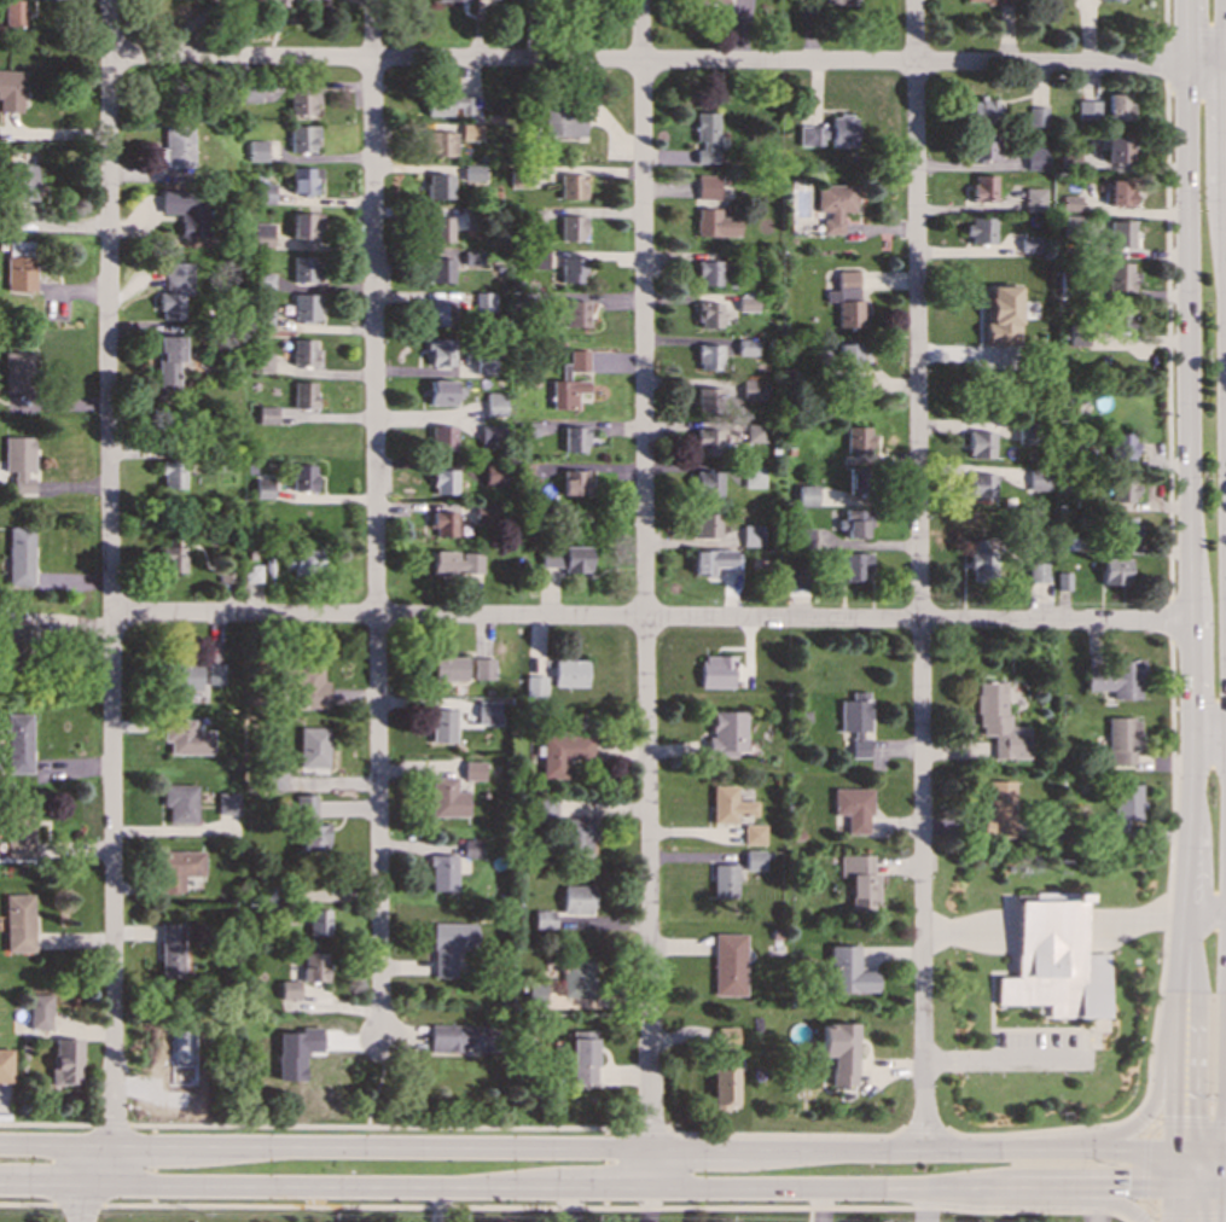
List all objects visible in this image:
building: (454, 0)
building: (267, 1)
building: (487, 1)
building: (993, 1)
building: (1109, 1)
building: (842, 2)
building: (737, 8)
building: (12, 13)
road: (1164, 21)
road: (1196, 30)
road: (667, 62)
road: (1166, 63)
road: (1225, 71)
building: (11, 92)
building: (303, 101)
building: (446, 104)
building: (1118, 106)
building: (988, 110)
building: (1087, 110)
building: (1036, 116)
building: (562, 124)
building: (469, 133)
building: (830, 133)
building: (705, 136)
building: (302, 139)
building: (440, 144)
building: (176, 146)
building: (982, 147)
building: (1117, 149)
building: (257, 151)
building: (472, 173)
building: (304, 181)
building: (23, 182)
building: (438, 186)
building: (571, 186)
building: (707, 187)
building: (983, 188)
building: (1120, 192)
building: (262, 193)
building: (1034, 199)
building: (1069, 203)
building: (833, 205)
building: (185, 210)
building: (533, 215)
building: (714, 223)
building: (304, 225)
building: (571, 228)
building: (440, 229)
building: (981, 229)
building: (262, 233)
building: (1121, 233)
building: (1029, 244)
building: (472, 257)
building: (536, 261)
building: (303, 269)
building: (438, 269)
building: (571, 269)
building: (18, 273)
building: (708, 273)
building: (1122, 278)
building: (263, 280)
building: (174, 290)
building: (846, 299)
building: (483, 302)
building: (746, 304)
building: (304, 307)
building: (441, 313)
building: (574, 314)
building: (1003, 314)
building: (708, 315)
building: (1120, 318)
building: (267, 320)
road: (1168, 342)
building: (746, 347)
building: (303, 351)
building: (440, 353)
building: (708, 356)
building: (848, 356)
building: (168, 359)
building: (262, 362)
building: (484, 362)
road: (1189, 369)
building: (18, 371)
building: (569, 380)
building: (753, 389)
building: (443, 394)
building: (303, 395)
building: (708, 398)
building: (495, 405)
building: (267, 415)
building: (754, 432)
building: (1025, 432)
building: (490, 436)
building: (441, 437)
building: (574, 438)
building: (858, 440)
building: (707, 441)
building: (980, 443)
building: (1121, 446)
building: (19, 462)
building: (172, 473)
building: (493, 475)
building: (753, 476)
building: (855, 479)
building: (1039, 479)
building: (443, 482)
building: (574, 482)
building: (707, 484)
building: (981, 487)
building: (263, 488)
building: (1122, 488)
building: (807, 495)
building: (483, 514)
road: (373, 520)
building: (443, 523)
building: (856, 523)
building: (707, 525)
building: (1123, 530)
building: (751, 535)
building: (803, 537)
building: (19, 557)
building: (565, 558)
building: (170, 559)
building: (302, 559)
building: (711, 559)
building: (981, 559)
building: (455, 563)
building: (855, 566)
building: (221, 569)
road: (110, 571)
building: (1036, 571)
building: (1114, 571)
building: (251, 572)
road: (644, 574)
road: (919, 574)
building: (796, 578)
building: (1062, 581)
road: (651, 617)
road: (1170, 619)
building: (17, 645)
building: (449, 668)
building: (483, 668)
building: (716, 671)
building: (568, 673)
building: (215, 674)
building: (184, 675)
building: (1115, 679)
building: (534, 686)
building: (309, 687)
road: (1198, 708)
building: (487, 711)
building: (855, 721)
building: (999, 722)
building: (442, 725)
building: (726, 733)
building: (186, 737)
road: (1209, 739)
building: (1122, 740)
building: (18, 743)
building: (313, 746)
building: (562, 753)
building: (472, 770)
road: (1191, 787)
building: (446, 798)
building: (180, 802)
building: (228, 803)
building: (728, 804)
building: (1126, 804)
building: (303, 805)
building: (852, 808)
building: (1000, 811)
building: (18, 832)
building: (753, 834)
building: (576, 836)
building: (312, 837)
building: (471, 848)
building: (753, 860)
building: (179, 868)
building: (443, 872)
road: (1189, 877)
road: (1167, 878)
building: (722, 879)
building: (859, 880)
building: (1052, 896)
building: (576, 900)
building: (544, 918)
road: (1207, 918)
building: (316, 921)
building: (17, 923)
road: (1056, 925)
building: (449, 947)
building: (170, 950)
road: (1187, 955)
building: (1056, 961)
building: (728, 965)
building: (313, 967)
building: (848, 971)
building: (576, 979)
building: (289, 989)
building: (535, 991)
building: (39, 1011)
road: (1225, 1030)
building: (459, 1037)
building: (724, 1037)
building: (295, 1052)
building: (838, 1052)
road: (1006, 1059)
building: (65, 1060)
building: (5, 1065)
road: (1173, 1071)
road: (379, 1084)
building: (724, 1087)
road: (1196, 1095)
road: (1225, 1115)
road: (1144, 1119)
road: (1140, 1121)
road: (1187, 1123)
road: (47, 1124)
road: (110, 1125)
road: (378, 1128)
road: (647, 1128)
road: (924, 1128)
road: (1042, 1129)
road: (783, 1134)
road: (53, 1142)
road: (147, 1144)
road: (420, 1144)
road: (696, 1147)
road: (955, 1148)
traffic signals: (1174, 1151)
road: (1199, 1151)
traffic signals: (1225, 1151)
road: (103, 1163)
road: (653, 1166)
road: (1173, 1170)
road: (4, 1181)
road: (52, 1182)
road: (1197, 1182)
road: (325, 1185)
road: (604, 1187)
road: (826, 1187)
road: (1030, 1188)
road: (1141, 1189)
traffic signals: (1173, 1191)
traffic signals: (1224, 1191)
road: (1225, 1191)
road: (1109, 1195)
road: (88, 1201)
road: (28, 1204)
road: (924, 1204)
road: (79, 1205)
road: (1147, 1205)
road: (616, 1206)
road: (1173, 1206)
road: (1224, 1206)
road: (1094, 1208)
road: (1141, 1214)

